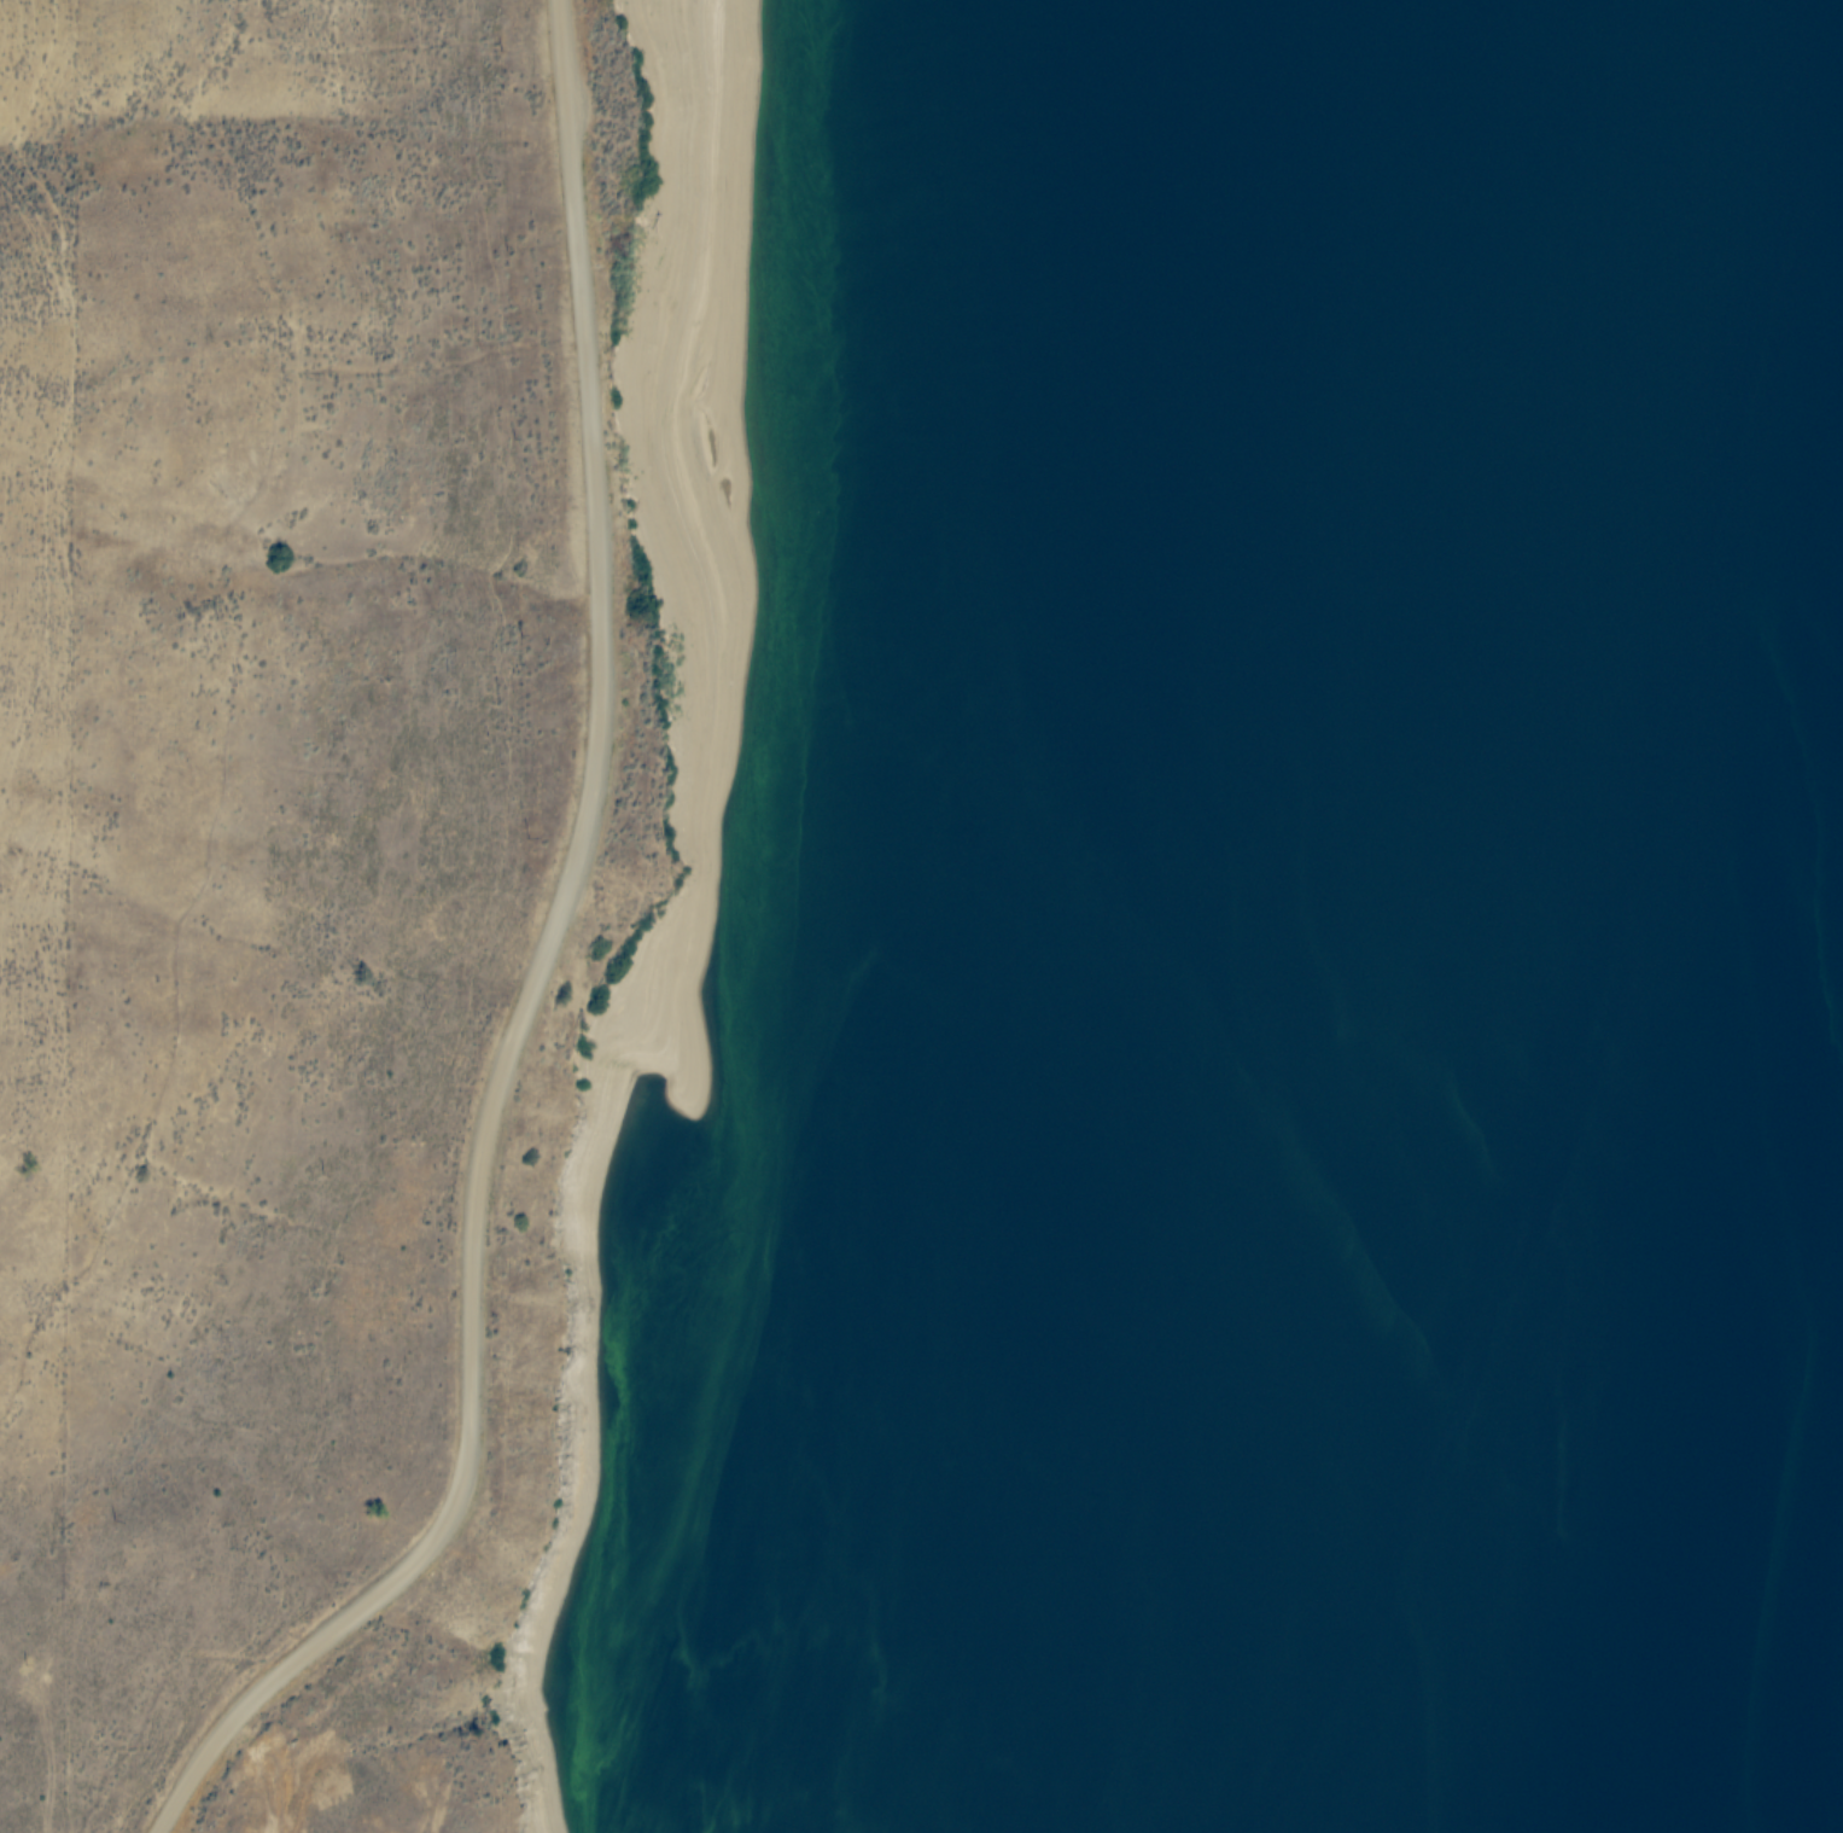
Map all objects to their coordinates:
road: (542, 973)

